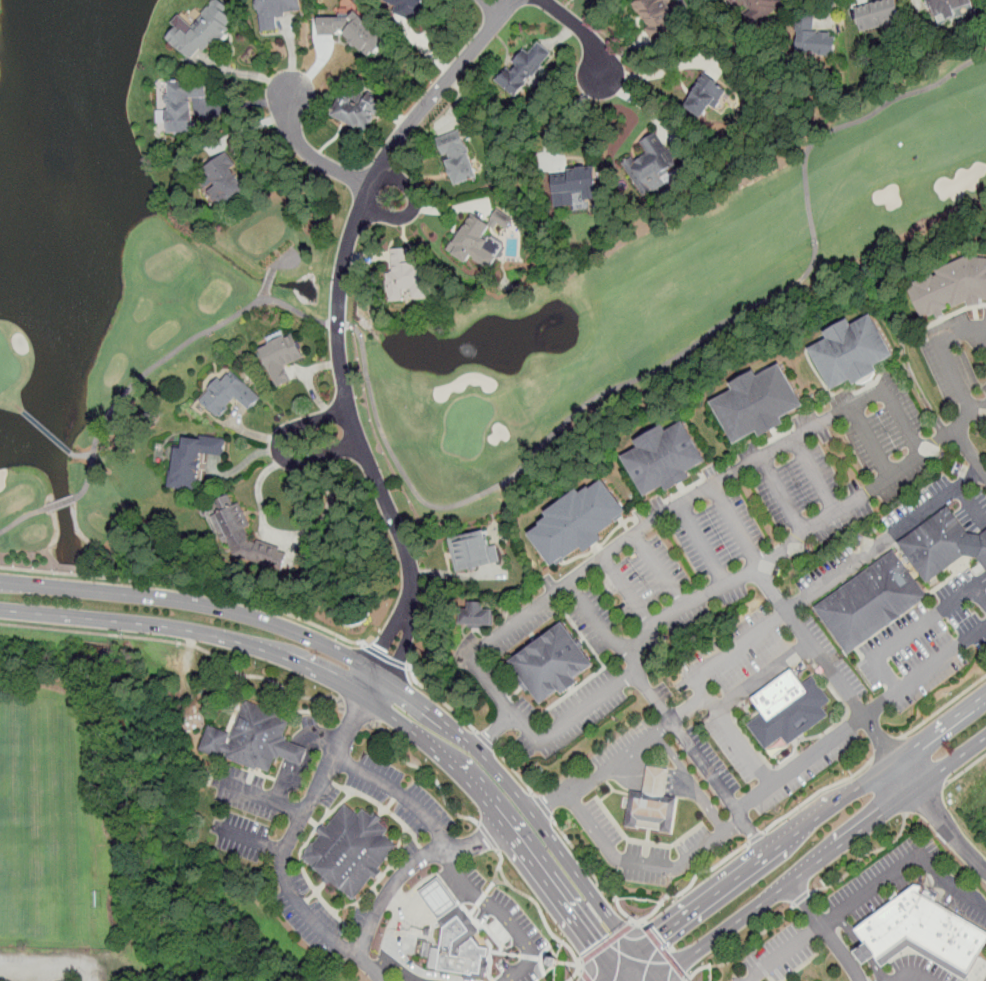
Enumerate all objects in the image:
building: (409, 8)
road: (491, 8)
building: (949, 8)
building: (755, 9)
building: (274, 12)
building: (650, 13)
road: (829, 13)
building: (878, 13)
road: (583, 30)
building: (202, 31)
building: (353, 31)
building: (812, 37)
building: (523, 69)
road: (658, 74)
building: (705, 96)
building: (184, 104)
building: (360, 109)
road: (559, 118)
road: (310, 154)
building: (458, 158)
building: (651, 162)
building: (224, 179)
building: (571, 184)
road: (413, 207)
building: (471, 239)
road: (295, 257)
building: (403, 274)
park: (182, 285)
building: (950, 287)
road: (264, 297)
road: (338, 320)
road: (338, 322)
building: (848, 352)
road: (170, 355)
building: (281, 358)
road: (670, 359)
road: (948, 360)
building: (227, 394)
building: (755, 404)
road: (873, 445)
road: (278, 450)
road: (970, 452)
road: (81, 455)
building: (662, 459)
building: (192, 460)
road: (816, 477)
road: (784, 498)
road: (60, 503)
road: (21, 517)
building: (572, 524)
parking lot: (741, 527)
road: (738, 529)
building: (245, 535)
road: (289, 535)
road: (802, 537)
building: (934, 546)
building: (971, 547)
road: (705, 548)
building: (473, 551)
road: (614, 551)
building: (982, 551)
road: (661, 571)
building: (895, 585)
road: (187, 588)
road: (629, 593)
road: (785, 612)
building: (854, 614)
building: (476, 617)
road: (598, 624)
road: (917, 631)
road: (180, 642)
parking lot: (928, 644)
road: (385, 657)
building: (546, 666)
road: (374, 672)
road: (764, 676)
road: (368, 697)
road: (441, 700)
road: (944, 706)
building: (787, 711)
road: (356, 712)
parking lot: (698, 721)
road: (861, 721)
road: (869, 723)
road: (494, 732)
building: (258, 735)
road: (487, 742)
parking lot: (623, 742)
road: (886, 748)
road: (298, 753)
road: (623, 760)
road: (700, 763)
road: (965, 769)
road: (427, 770)
road: (517, 773)
road: (654, 781)
building: (653, 783)
road: (693, 784)
road: (817, 793)
road: (400, 796)
road: (925, 798)
road: (266, 800)
road: (543, 807)
building: (651, 814)
road: (810, 823)
park: (40, 825)
park: (116, 836)
road: (489, 836)
road: (757, 837)
road: (293, 838)
road: (251, 840)
parking lot: (643, 851)
building: (348, 852)
road: (862, 856)
road: (822, 860)
road: (646, 864)
road: (414, 868)
road: (595, 877)
road: (693, 881)
road: (947, 887)
road: (865, 893)
road: (800, 896)
road: (434, 897)
building: (435, 901)
road: (542, 914)
road: (503, 915)
building: (922, 928)
road: (826, 931)
building: (450, 933)
road: (399, 934)
traffic signals: (657, 938)
road: (609, 942)
traffic signals: (595, 945)
road: (744, 949)
road: (785, 951)
road: (664, 953)
parking lot: (775, 956)
building: (458, 960)
building: (555, 962)
road: (56, 964)
road: (405, 966)
road: (617, 967)
road: (646, 968)
road: (802, 968)
road: (584, 975)
road: (914, 976)

